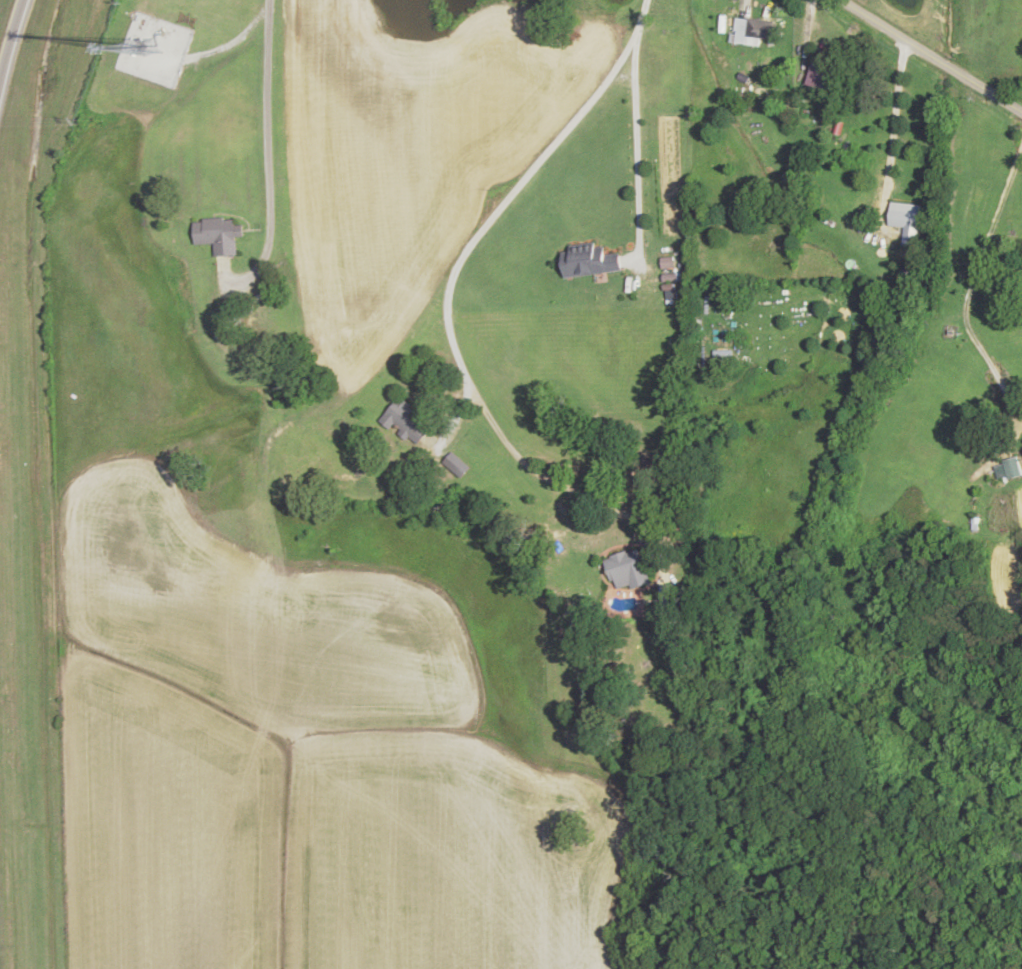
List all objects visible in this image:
building: (754, 32)
road: (11, 34)
road: (930, 57)
building: (823, 74)
road: (267, 95)
road: (493, 217)
building: (906, 222)
building: (217, 235)
building: (590, 261)
building: (723, 359)
building: (407, 424)
building: (456, 466)
building: (626, 571)

